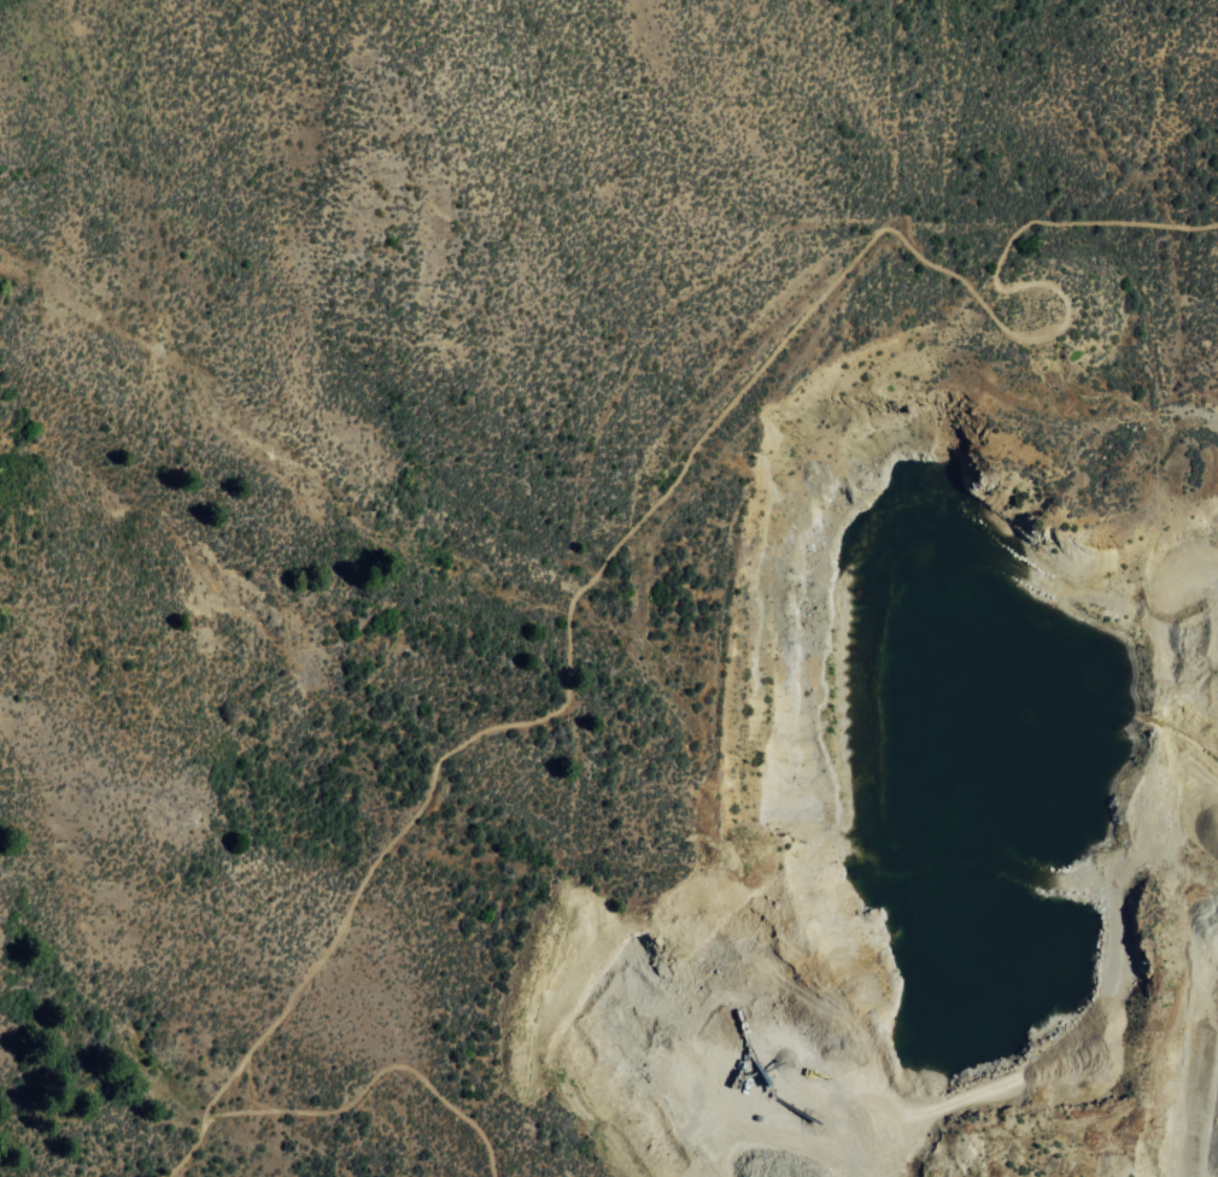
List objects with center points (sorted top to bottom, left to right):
crop: (453, 527)
quarry: (945, 720)
road: (369, 1078)

